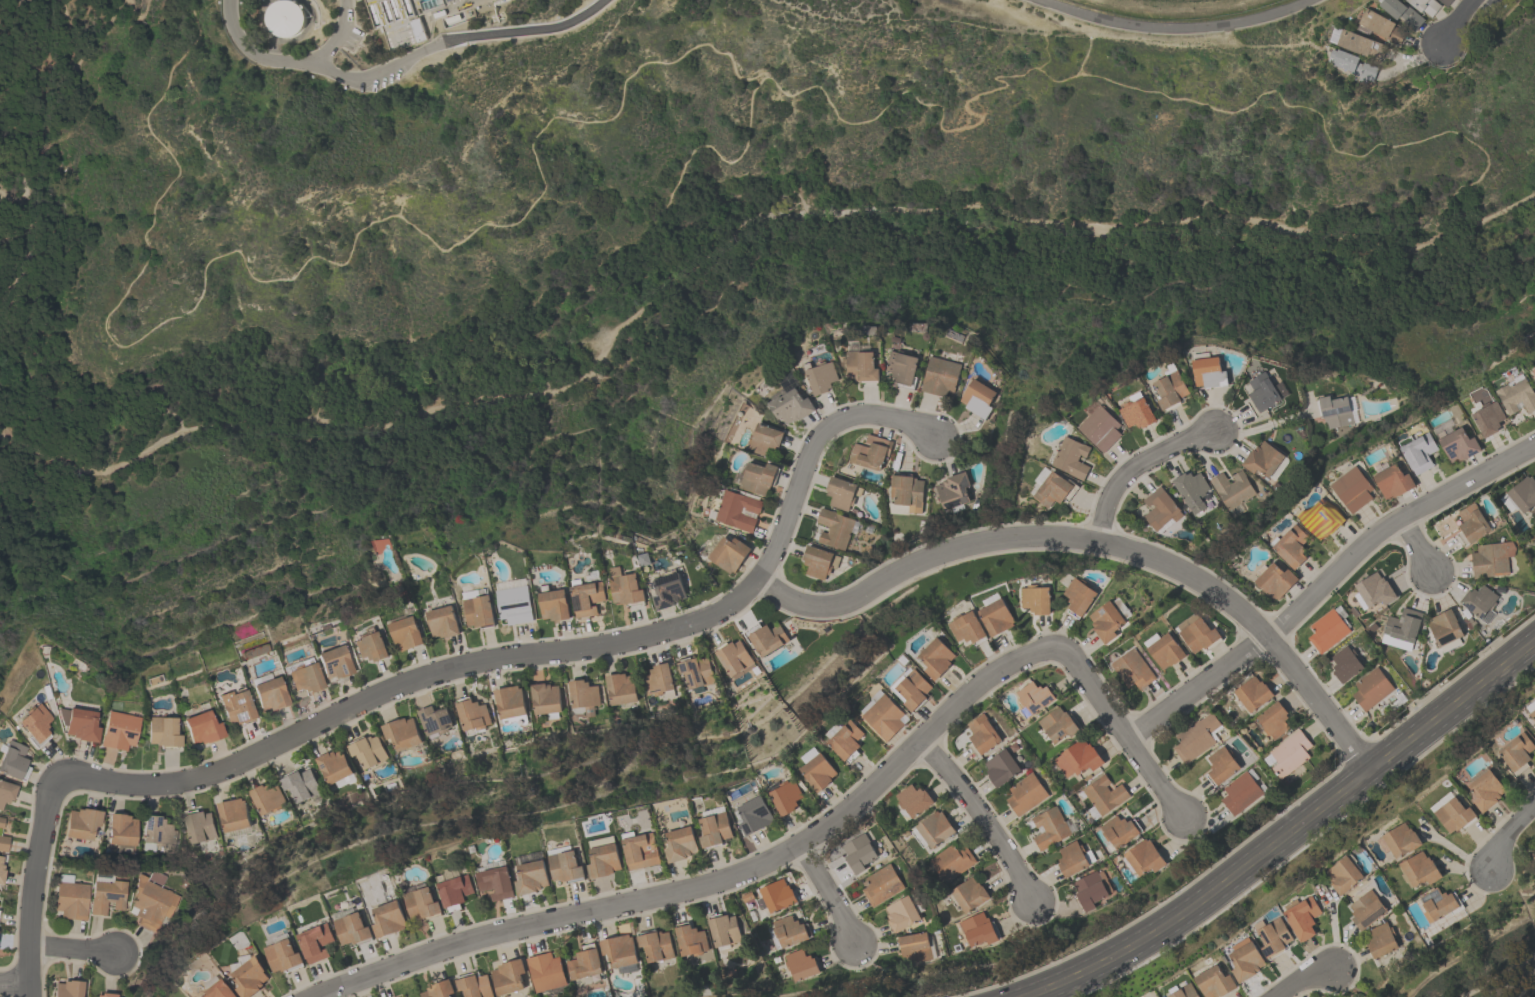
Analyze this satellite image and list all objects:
road: (464, 0)
building: (1447, 2)
building: (25, 4)
building: (1426, 6)
building: (1403, 13)
building: (284, 20)
storage tank: (284, 20)
road: (1455, 22)
building: (1383, 26)
road: (1172, 28)
building: (405, 36)
road: (335, 37)
building: (1362, 44)
road: (90, 45)
road: (408, 64)
building: (1356, 67)
road: (1313, 114)
road: (35, 120)
road: (673, 196)
road: (477, 226)
road: (727, 240)
park: (594, 253)
building: (864, 366)
building: (904, 368)
building: (1212, 374)
building: (941, 376)
building: (822, 378)
building: (1172, 389)
building: (1264, 393)
building: (1517, 397)
building: (978, 398)
building: (792, 407)
building: (1336, 411)
building: (1138, 413)
building: (1489, 419)
road: (1263, 426)
building: (1100, 429)
building: (767, 439)
building: (1459, 447)
road: (811, 449)
building: (872, 453)
building: (1421, 454)
building: (1071, 458)
building: (1263, 460)
road: (1134, 467)
building: (760, 478)
building: (1393, 482)
building: (1192, 487)
building: (1053, 490)
building: (1234, 490)
building: (1353, 490)
building: (954, 491)
building: (842, 493)
building: (908, 494)
building: (1524, 494)
building: (1160, 509)
building: (738, 511)
building: (1323, 522)
road: (1389, 525)
building: (1474, 525)
building: (836, 531)
road: (1013, 536)
road: (1416, 545)
building: (1293, 548)
building: (730, 555)
building: (1493, 560)
building: (818, 563)
building: (1276, 581)
building: (1374, 590)
building: (627, 591)
building: (667, 591)
building: (1080, 597)
building: (587, 598)
building: (1036, 601)
building: (1479, 601)
building: (515, 605)
building: (555, 605)
building: (479, 612)
building: (997, 617)
building: (444, 622)
building: (1108, 623)
building: (1404, 626)
building: (968, 628)
building: (1445, 628)
building: (1328, 631)
building: (406, 634)
building: (1199, 636)
building: (769, 639)
building: (372, 647)
building: (1167, 652)
building: (734, 658)
building: (938, 658)
building: (334, 662)
building: (1346, 665)
building: (1134, 670)
building: (696, 672)
building: (306, 677)
road: (409, 679)
building: (659, 679)
road: (1197, 686)
building: (911, 688)
building: (622, 689)
building: (1372, 689)
building: (270, 694)
building: (1253, 694)
building: (585, 695)
building: (546, 700)
building: (1033, 700)
road: (1317, 700)
building: (510, 702)
building: (237, 706)
building: (1531, 709)
building: (472, 715)
building: (883, 715)
building: (435, 720)
building: (1274, 721)
building: (35, 723)
building: (1058, 724)
building: (81, 725)
road: (1118, 725)
building: (203, 729)
building: (120, 730)
building: (163, 732)
building: (402, 732)
building: (982, 735)
building: (1197, 737)
building: (845, 739)
building: (368, 751)
building: (1517, 753)
building: (1291, 755)
building: (1078, 758)
building: (12, 760)
building: (1223, 765)
building: (335, 766)
building: (1001, 767)
building: (818, 771)
building: (301, 786)
building: (1485, 788)
building: (6, 791)
building: (1025, 793)
building: (1241, 793)
building: (1105, 794)
building: (787, 796)
building: (268, 798)
building: (914, 799)
building: (755, 814)
building: (1454, 815)
building: (235, 816)
road: (982, 816)
building: (0, 821)
building: (83, 822)
building: (201, 827)
building: (715, 827)
building: (1049, 827)
building: (122, 828)
building: (933, 829)
building: (159, 832)
building: (1121, 832)
road: (1507, 833)
road: (1287, 837)
building: (1399, 840)
building: (4, 843)
building: (681, 843)
building: (640, 850)
road: (1456, 851)
building: (860, 852)
building: (603, 857)
building: (1145, 858)
building: (1072, 859)
building: (951, 861)
building: (564, 864)
road: (1464, 869)
building: (1418, 870)
building: (1, 871)
building: (1344, 875)
building: (531, 877)
road: (32, 879)
building: (495, 882)
road: (709, 883)
building: (882, 885)
building: (1090, 889)
road: (1483, 889)
building: (455, 892)
road: (829, 893)
building: (969, 894)
building: (109, 895)
building: (747, 896)
building: (775, 896)
building: (72, 900)
building: (422, 902)
building: (149, 904)
building: (1438, 904)
building: (1366, 909)
building: (902, 913)
building: (1302, 917)
building: (388, 918)
building: (352, 929)
building: (978, 929)
building: (724, 930)
building: (788, 932)
building: (1275, 937)
building: (690, 940)
building: (1381, 940)
building: (315, 942)
building: (656, 946)
building: (915, 946)
road: (71, 948)
building: (619, 951)
building: (283, 954)
building: (1246, 960)
building: (585, 962)
building: (800, 964)
building: (546, 971)
road: (13, 976)
building: (509, 976)
building: (250, 977)
road: (1303, 978)
building: (1215, 982)
building: (475, 986)
building: (217, 988)
building: (69, 989)
building: (439, 989)
building: (1186, 992)
building: (106, 995)

